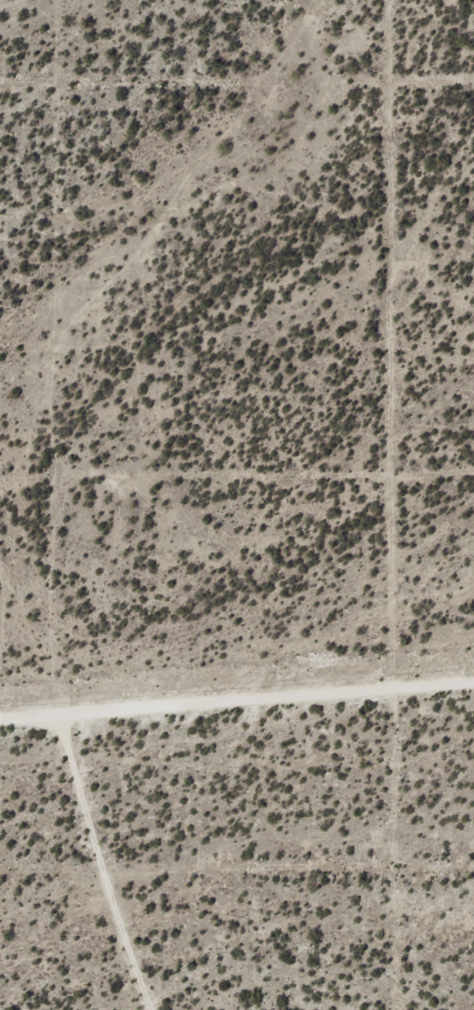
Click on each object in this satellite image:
road: (236, 712)

